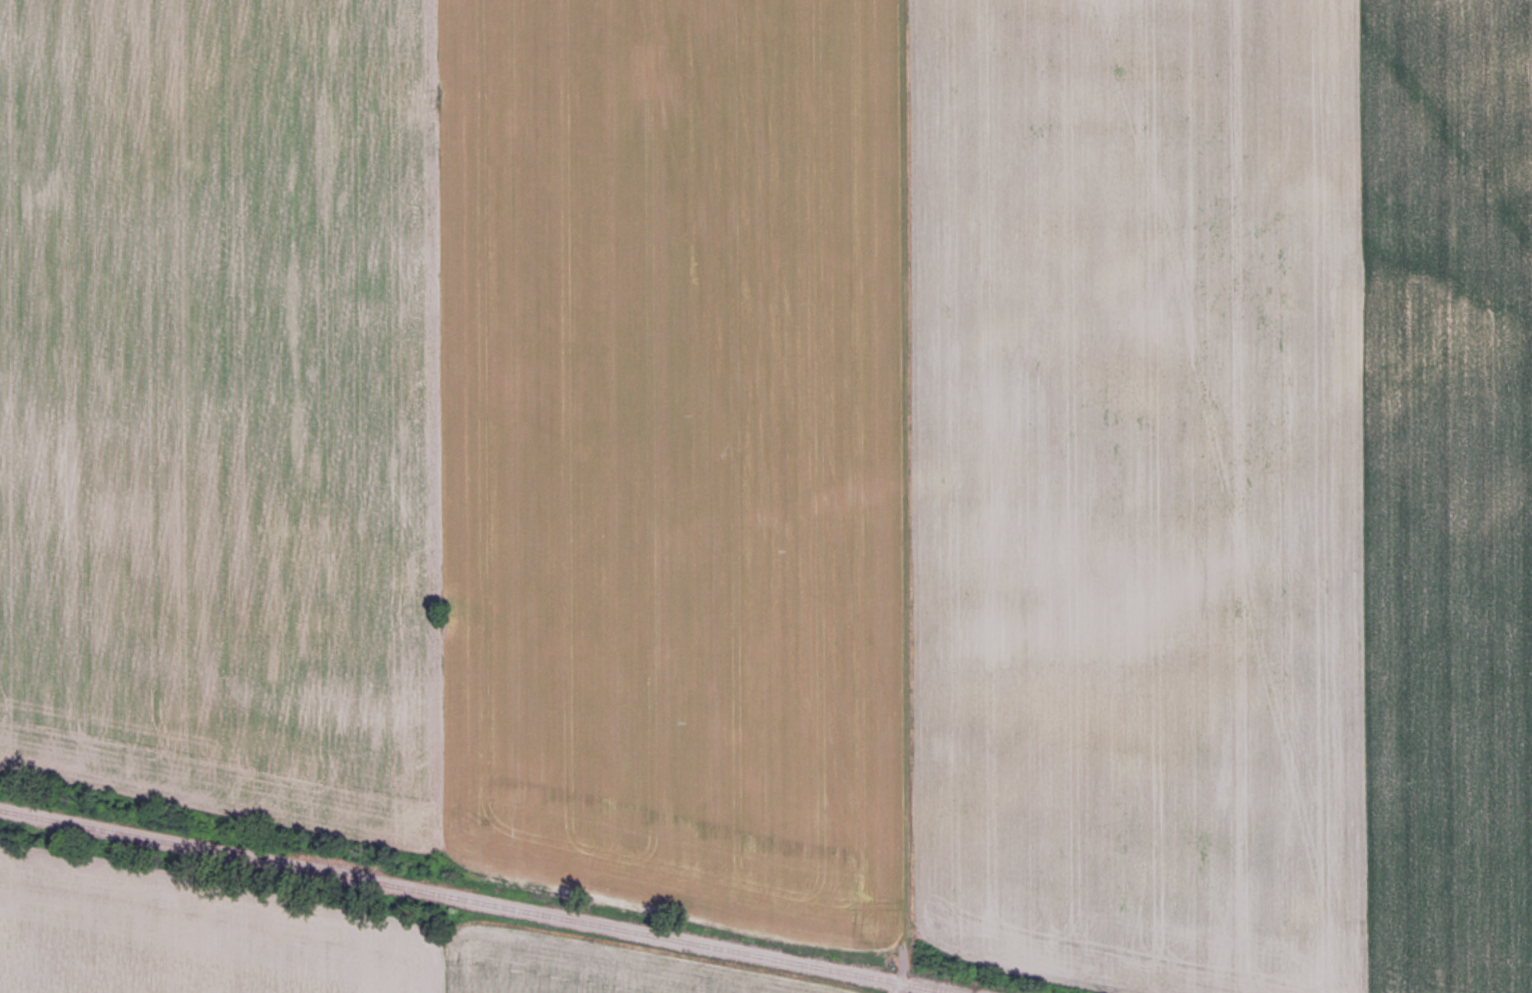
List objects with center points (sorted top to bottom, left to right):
railway: (474, 901)

